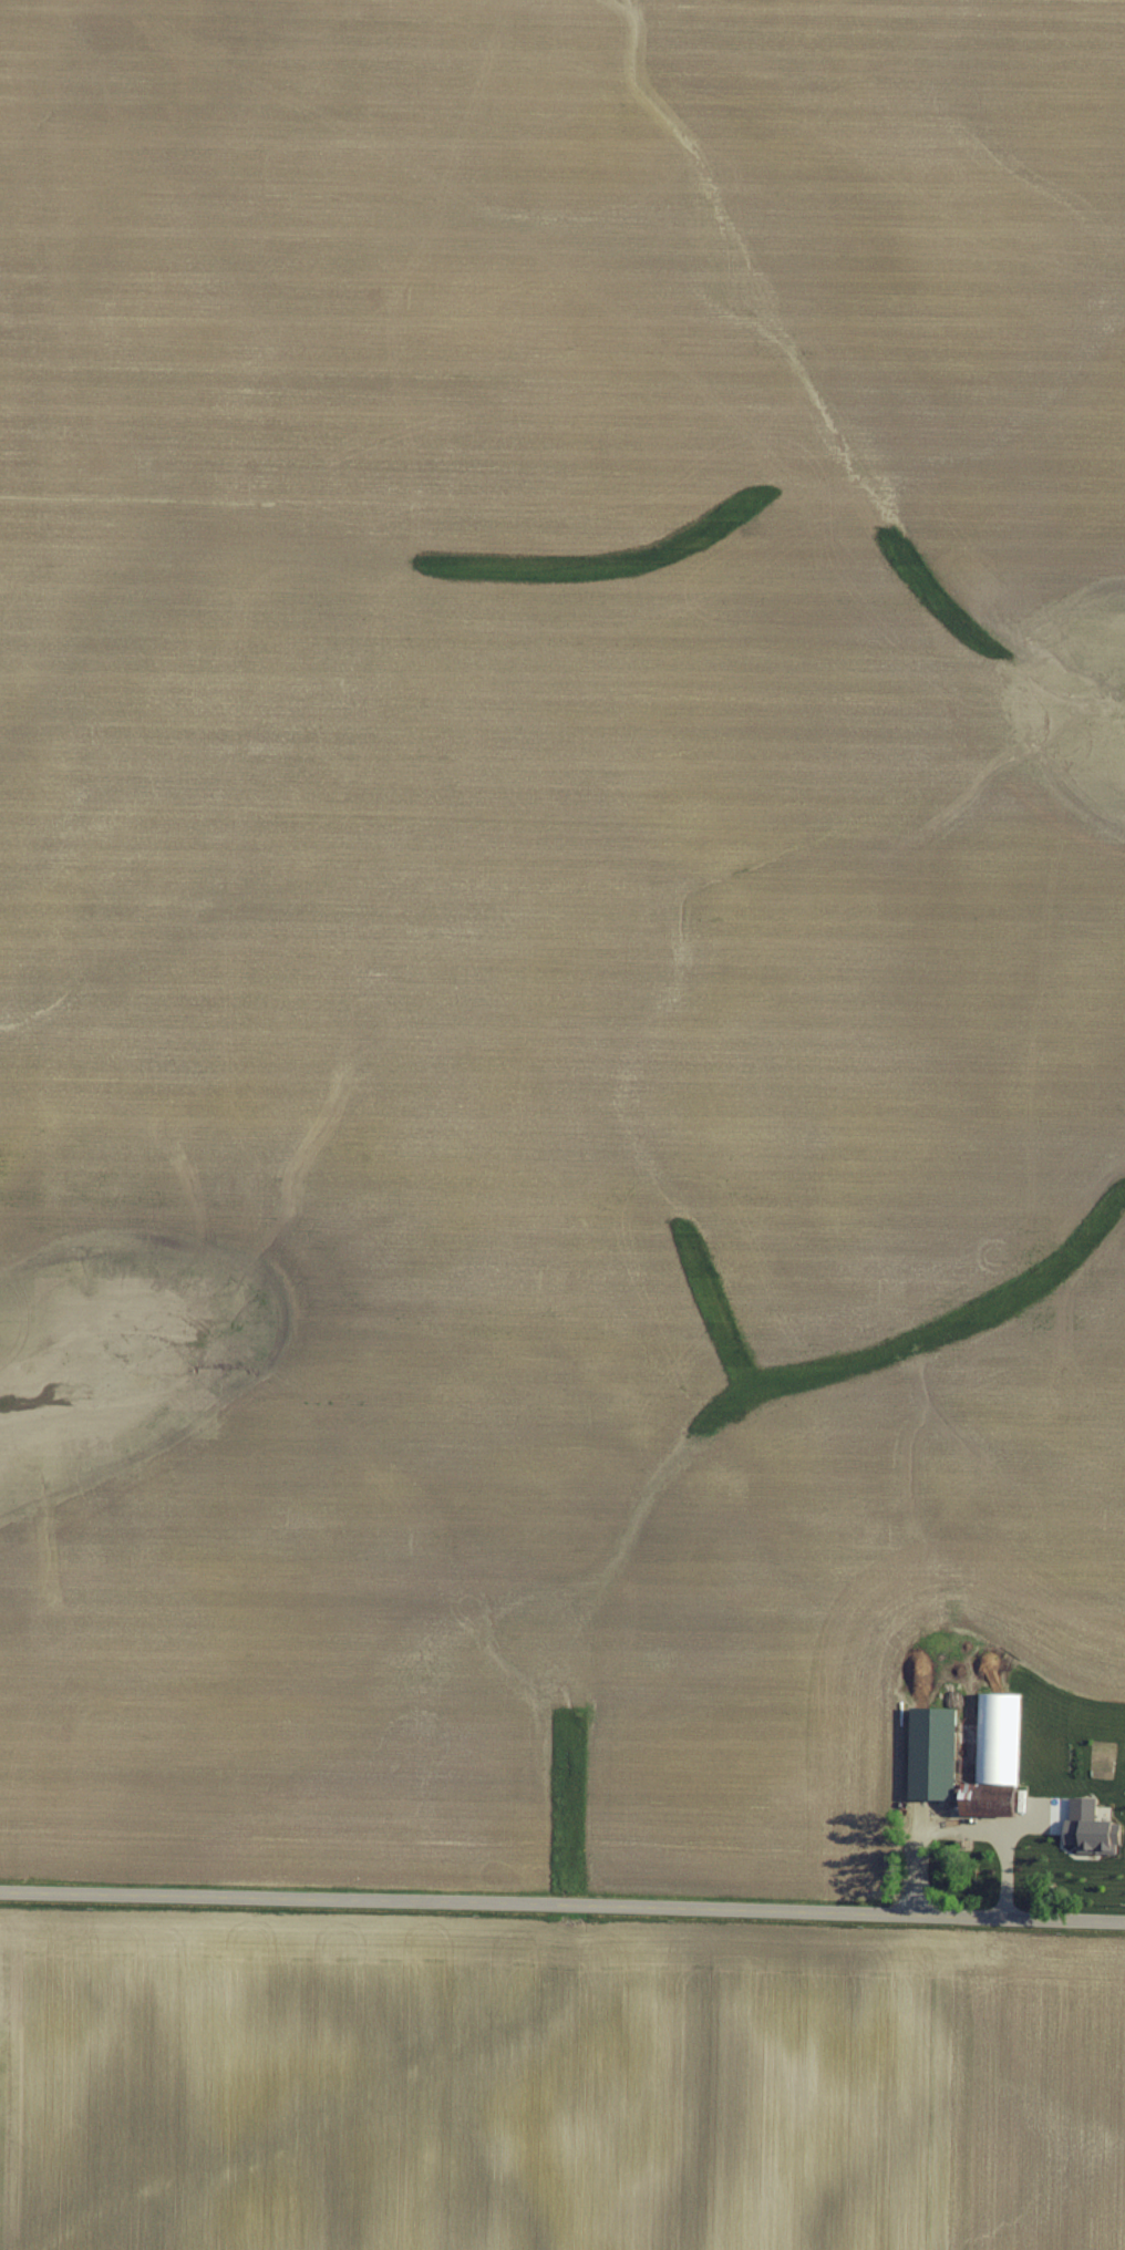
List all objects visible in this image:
road: (562, 1909)

